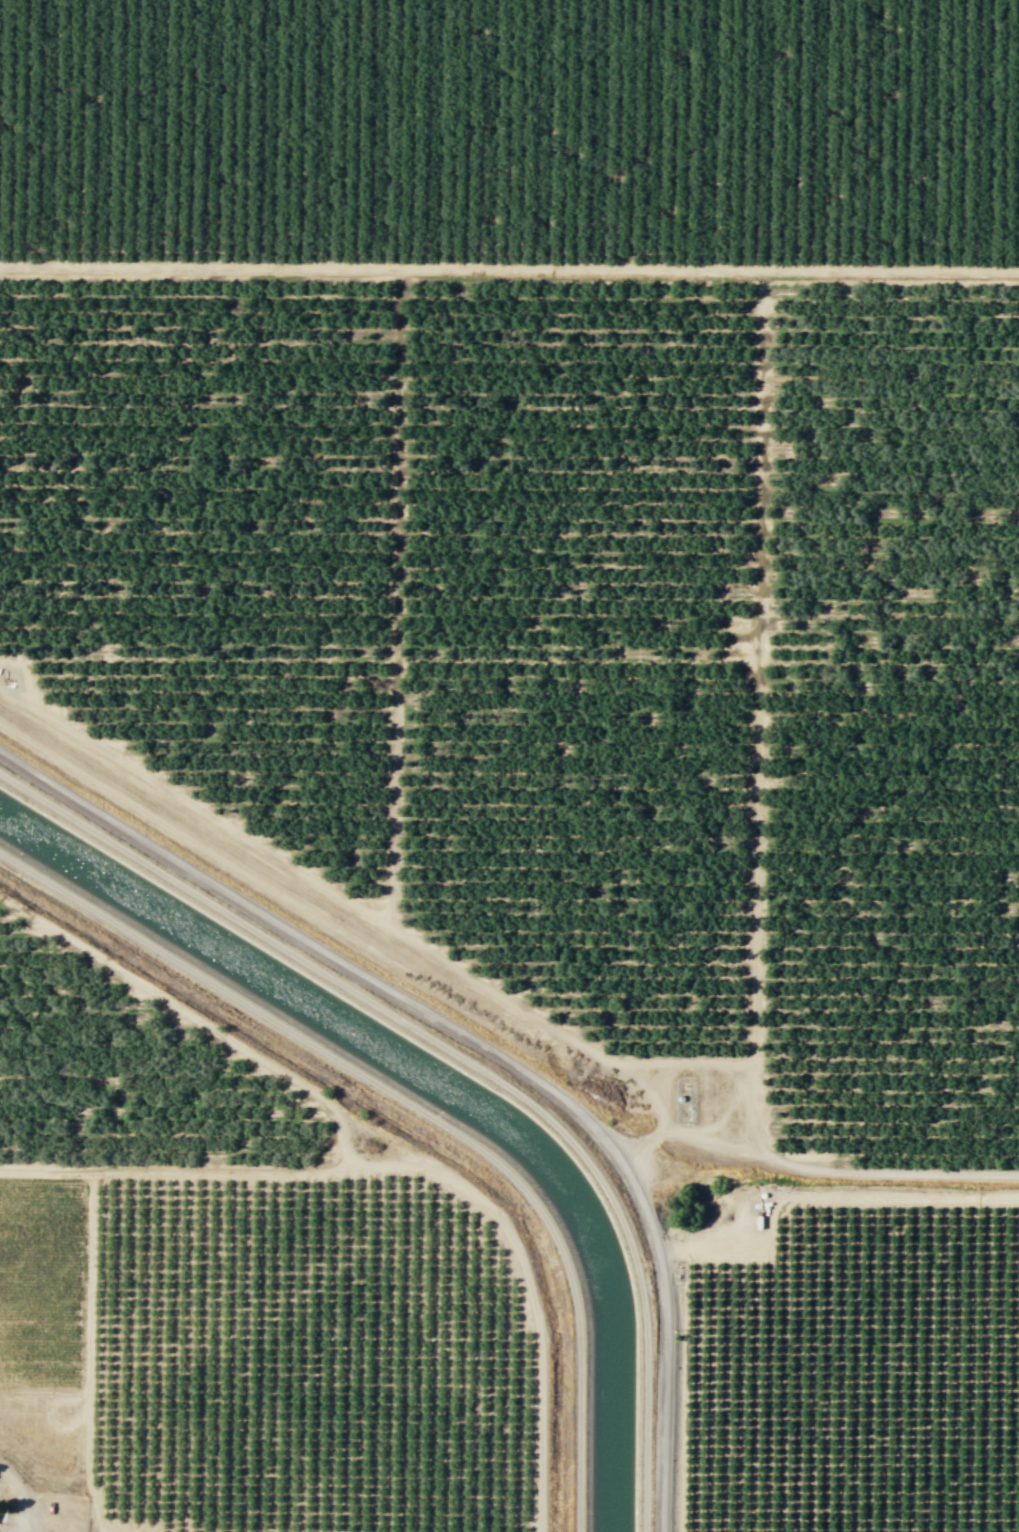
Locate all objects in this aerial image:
road: (509, 269)
road: (212, 1030)
road: (477, 1045)
road: (463, 1060)
road: (418, 1167)
crop: (43, 1321)
road: (18, 1497)

